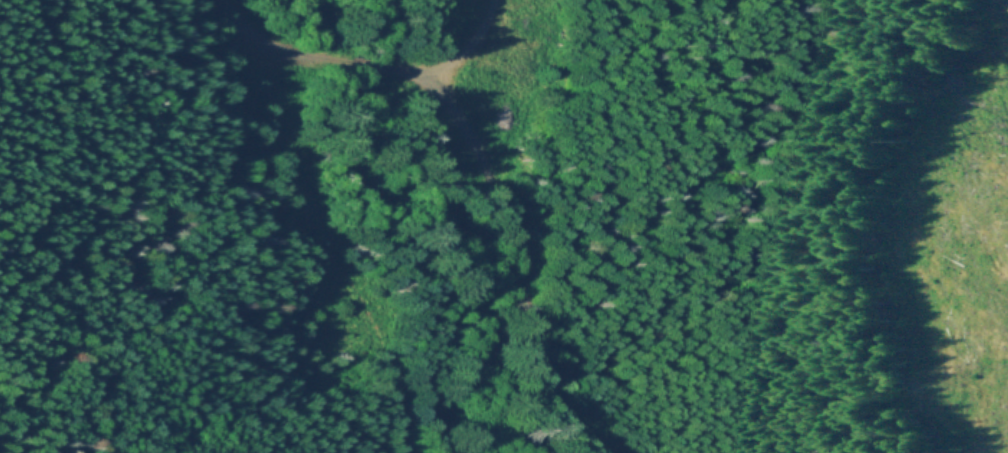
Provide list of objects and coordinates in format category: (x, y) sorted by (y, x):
road: (404, 68)
road: (315, 222)
road: (511, 260)

